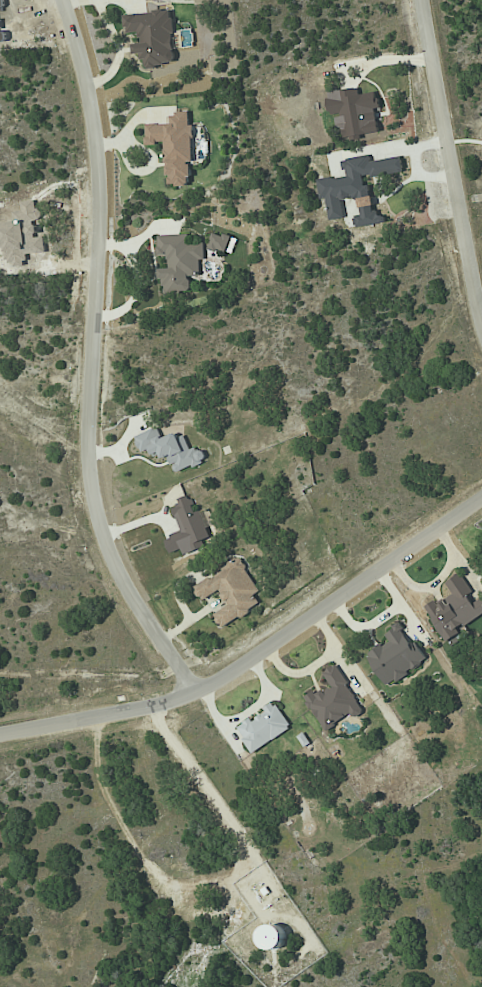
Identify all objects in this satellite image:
building: (153, 37)
road: (393, 56)
building: (355, 112)
road: (414, 145)
building: (175, 146)
road: (450, 159)
road: (424, 171)
building: (357, 188)
building: (222, 243)
building: (180, 262)
road: (93, 356)
building: (170, 448)
building: (189, 528)
building: (231, 591)
building: (455, 609)
road: (257, 651)
building: (395, 656)
building: (334, 700)
building: (264, 727)

